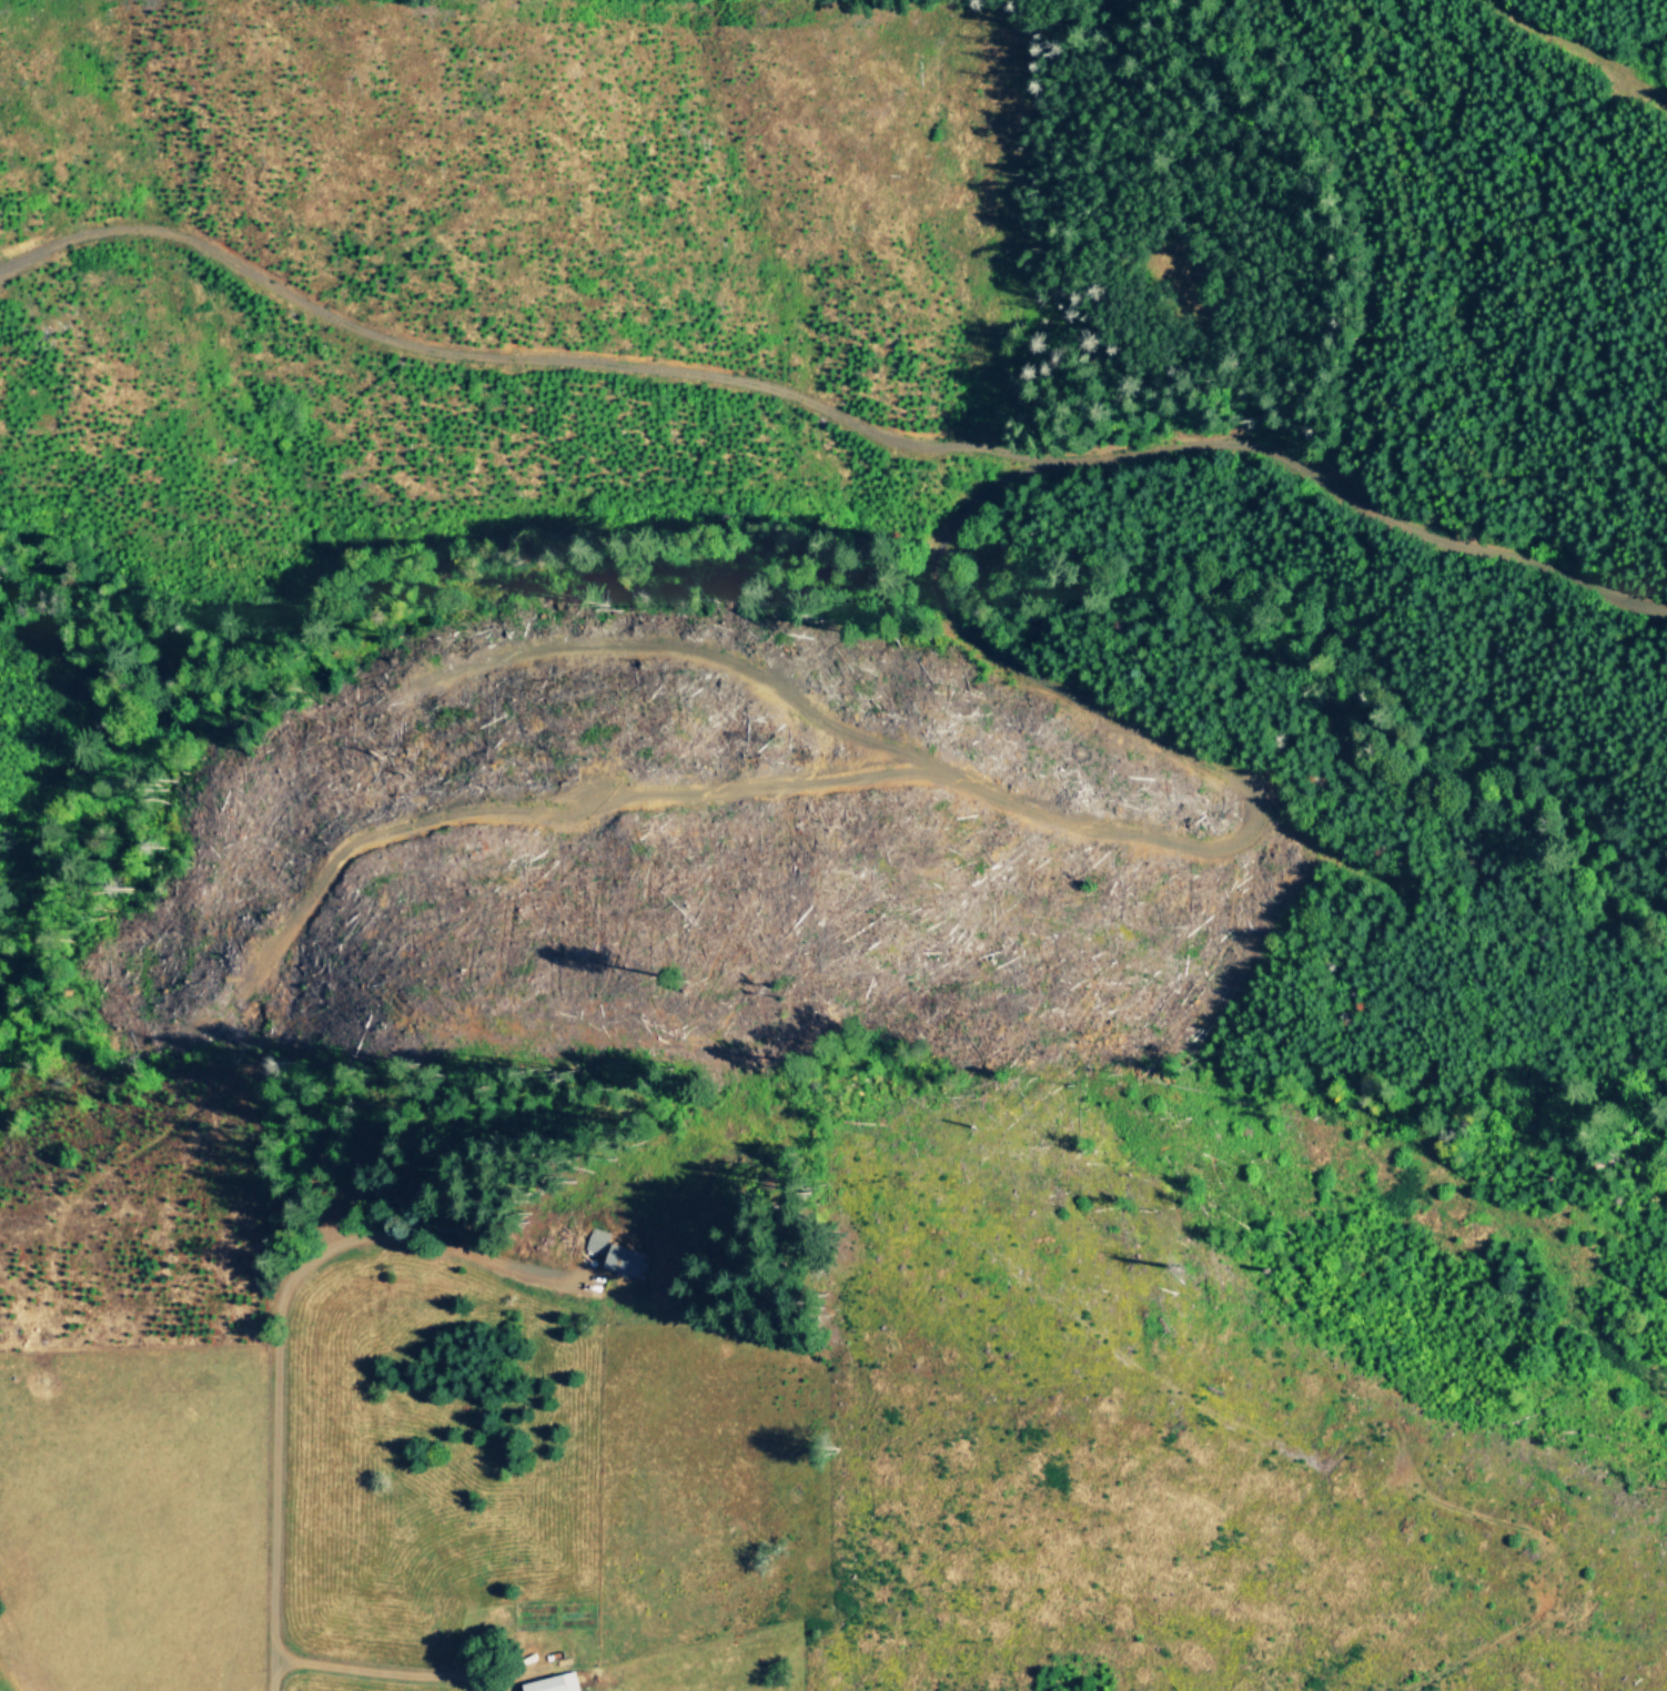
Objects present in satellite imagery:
road: (1585, 47)
building: (612, 1253)
road: (281, 1327)
road: (391, 1669)
building: (554, 1683)

